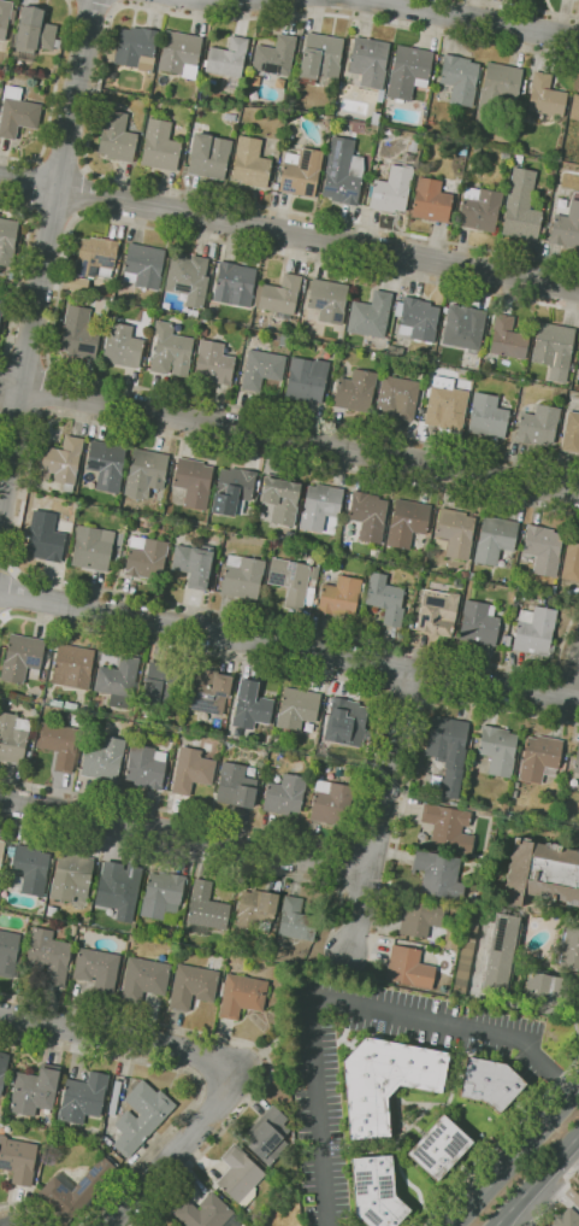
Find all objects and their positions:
road: (120, 2)
road: (94, 5)
road: (531, 8)
road: (478, 18)
building: (4, 24)
building: (33, 34)
building: (134, 49)
building: (179, 54)
building: (273, 55)
building: (226, 58)
building: (321, 60)
building: (368, 64)
building: (408, 71)
building: (459, 78)
building: (500, 83)
building: (339, 84)
building: (522, 89)
building: (543, 99)
road: (53, 100)
road: (94, 104)
building: (574, 107)
building: (17, 112)
building: (425, 112)
building: (229, 116)
building: (374, 118)
building: (116, 137)
building: (478, 141)
building: (159, 146)
building: (412, 146)
building: (208, 156)
building: (504, 156)
building: (373, 157)
building: (406, 157)
building: (516, 158)
building: (248, 163)
road: (61, 165)
building: (374, 170)
building: (342, 171)
building: (299, 172)
road: (33, 186)
building: (391, 189)
road: (82, 193)
building: (430, 201)
building: (520, 207)
building: (478, 210)
road: (52, 212)
building: (566, 227)
building: (542, 230)
road: (289, 231)
building: (6, 240)
road: (45, 253)
building: (95, 257)
building: (143, 266)
road: (20, 268)
building: (188, 278)
building: (234, 283)
building: (278, 297)
building: (0, 300)
building: (327, 300)
building: (0, 305)
road: (58, 305)
building: (191, 313)
building: (370, 316)
building: (418, 319)
building: (462, 328)
building: (202, 332)
building: (78, 333)
building: (507, 339)
building: (122, 347)
building: (395, 350)
building: (553, 350)
building: (170, 351)
road: (25, 360)
building: (213, 362)
building: (578, 364)
building: (571, 365)
building: (261, 369)
building: (578, 376)
building: (306, 380)
road: (45, 389)
building: (355, 391)
building: (397, 397)
building: (444, 405)
road: (19, 410)
building: (486, 416)
building: (537, 426)
building: (571, 433)
road: (289, 438)
building: (61, 463)
building: (106, 465)
building: (144, 473)
building: (191, 483)
building: (231, 489)
building: (280, 500)
building: (319, 506)
building: (367, 516)
building: (407, 522)
road: (14, 526)
building: (337, 528)
building: (454, 533)
building: (43, 536)
building: (494, 540)
building: (91, 547)
building: (542, 550)
building: (144, 557)
building: (571, 558)
building: (193, 563)
road: (7, 569)
building: (462, 574)
building: (472, 576)
building: (242, 577)
building: (289, 581)
building: (338, 597)
building: (384, 598)
building: (313, 600)
building: (437, 612)
road: (2, 615)
building: (478, 623)
building: (534, 632)
building: (507, 641)
road: (289, 646)
building: (22, 657)
building: (73, 665)
road: (572, 680)
building: (119, 681)
building: (160, 684)
building: (207, 691)
road: (402, 697)
building: (228, 700)
building: (249, 706)
building: (296, 708)
building: (345, 722)
building: (13, 737)
building: (60, 743)
building: (207, 746)
road: (370, 746)
building: (497, 751)
road: (414, 752)
building: (448, 752)
building: (538, 757)
building: (104, 758)
building: (575, 763)
building: (147, 765)
building: (191, 769)
building: (236, 786)
building: (284, 794)
building: (331, 803)
road: (378, 809)
building: (448, 829)
road: (183, 832)
road: (373, 841)
building: (2, 853)
road: (193, 858)
road: (343, 863)
building: (29, 869)
building: (540, 874)
building: (438, 875)
building: (72, 876)
building: (119, 888)
building: (164, 896)
building: (206, 909)
building: (52, 910)
building: (255, 910)
building: (419, 917)
building: (297, 920)
building: (73, 929)
building: (450, 942)
building: (571, 950)
building: (8, 952)
building: (500, 954)
building: (48, 956)
building: (463, 956)
building: (409, 967)
building: (98, 969)
building: (144, 979)
building: (193, 985)
building: (548, 989)
building: (242, 995)
road: (344, 1001)
road: (243, 1040)
road: (123, 1044)
building: (2, 1068)
road: (191, 1077)
building: (386, 1080)
building: (490, 1083)
building: (35, 1090)
building: (84, 1097)
building: (116, 1097)
building: (142, 1116)
building: (268, 1134)
road: (501, 1140)
road: (177, 1148)
building: (441, 1148)
road: (562, 1152)
building: (18, 1158)
road: (515, 1158)
building: (241, 1175)
road: (562, 1185)
building: (75, 1190)
building: (376, 1191)
road: (560, 1195)
road: (521, 1197)
building: (578, 1198)
road: (22, 1208)
building: (208, 1213)
building: (567, 1218)

